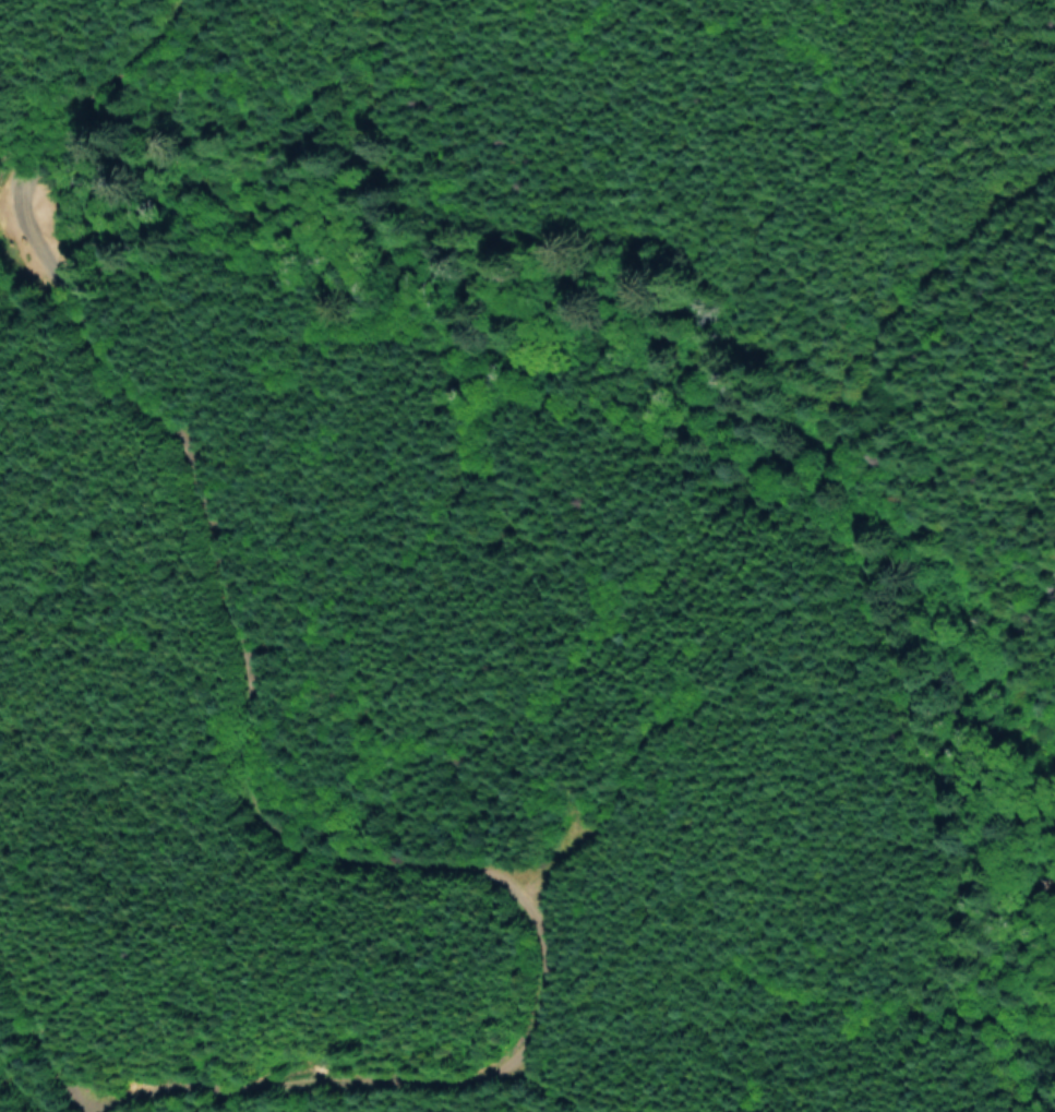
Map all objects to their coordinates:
road: (264, 692)
road: (28, 1071)

